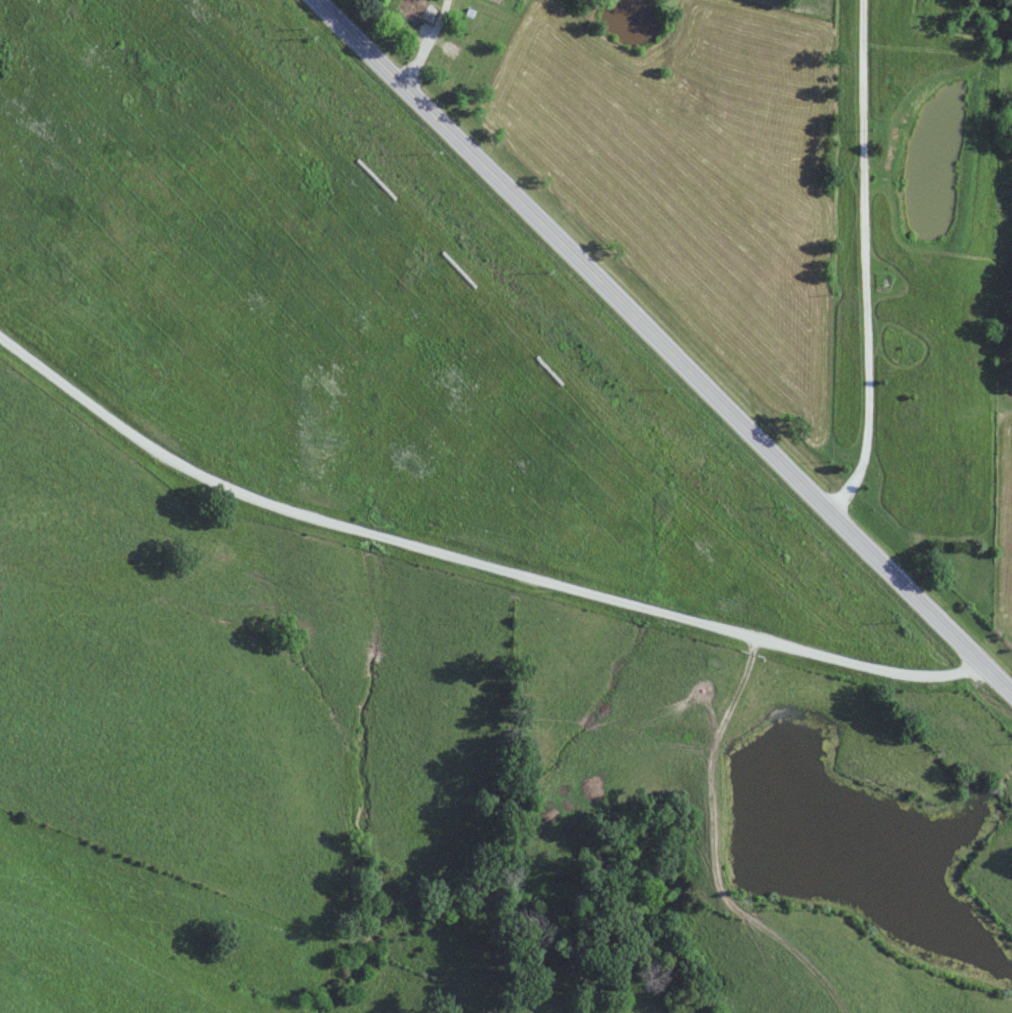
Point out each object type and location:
building: (415, 9)
road: (648, 330)
building: (901, 346)
road: (465, 558)
road: (994, 676)

